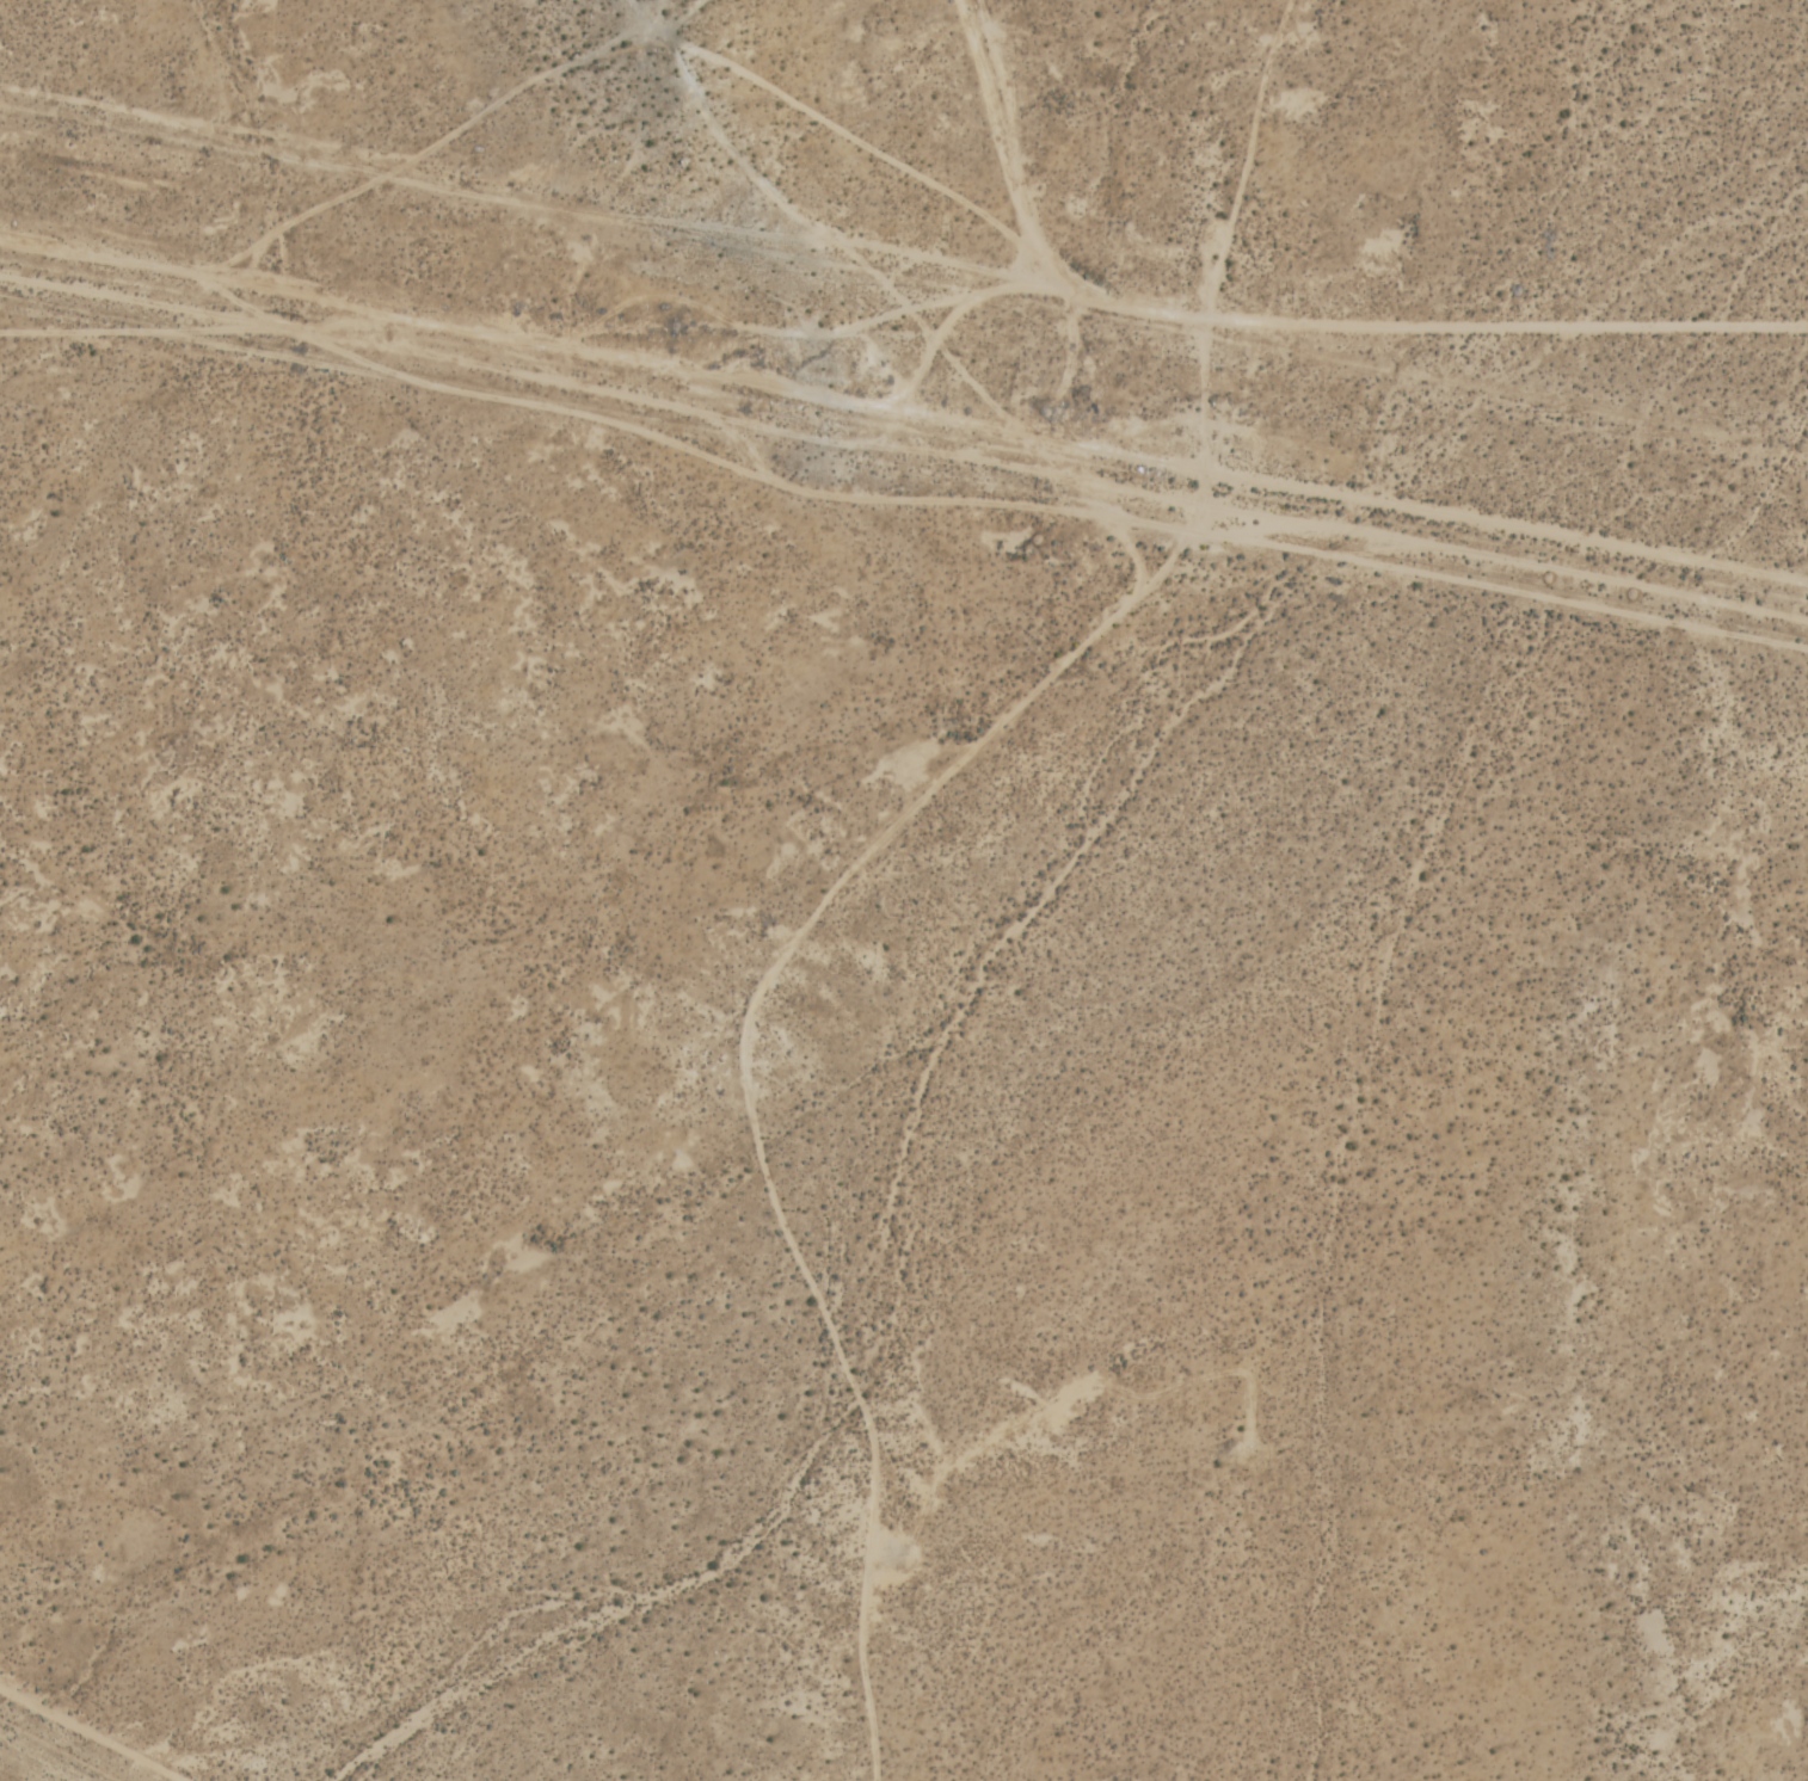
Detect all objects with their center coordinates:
road: (904, 318)

